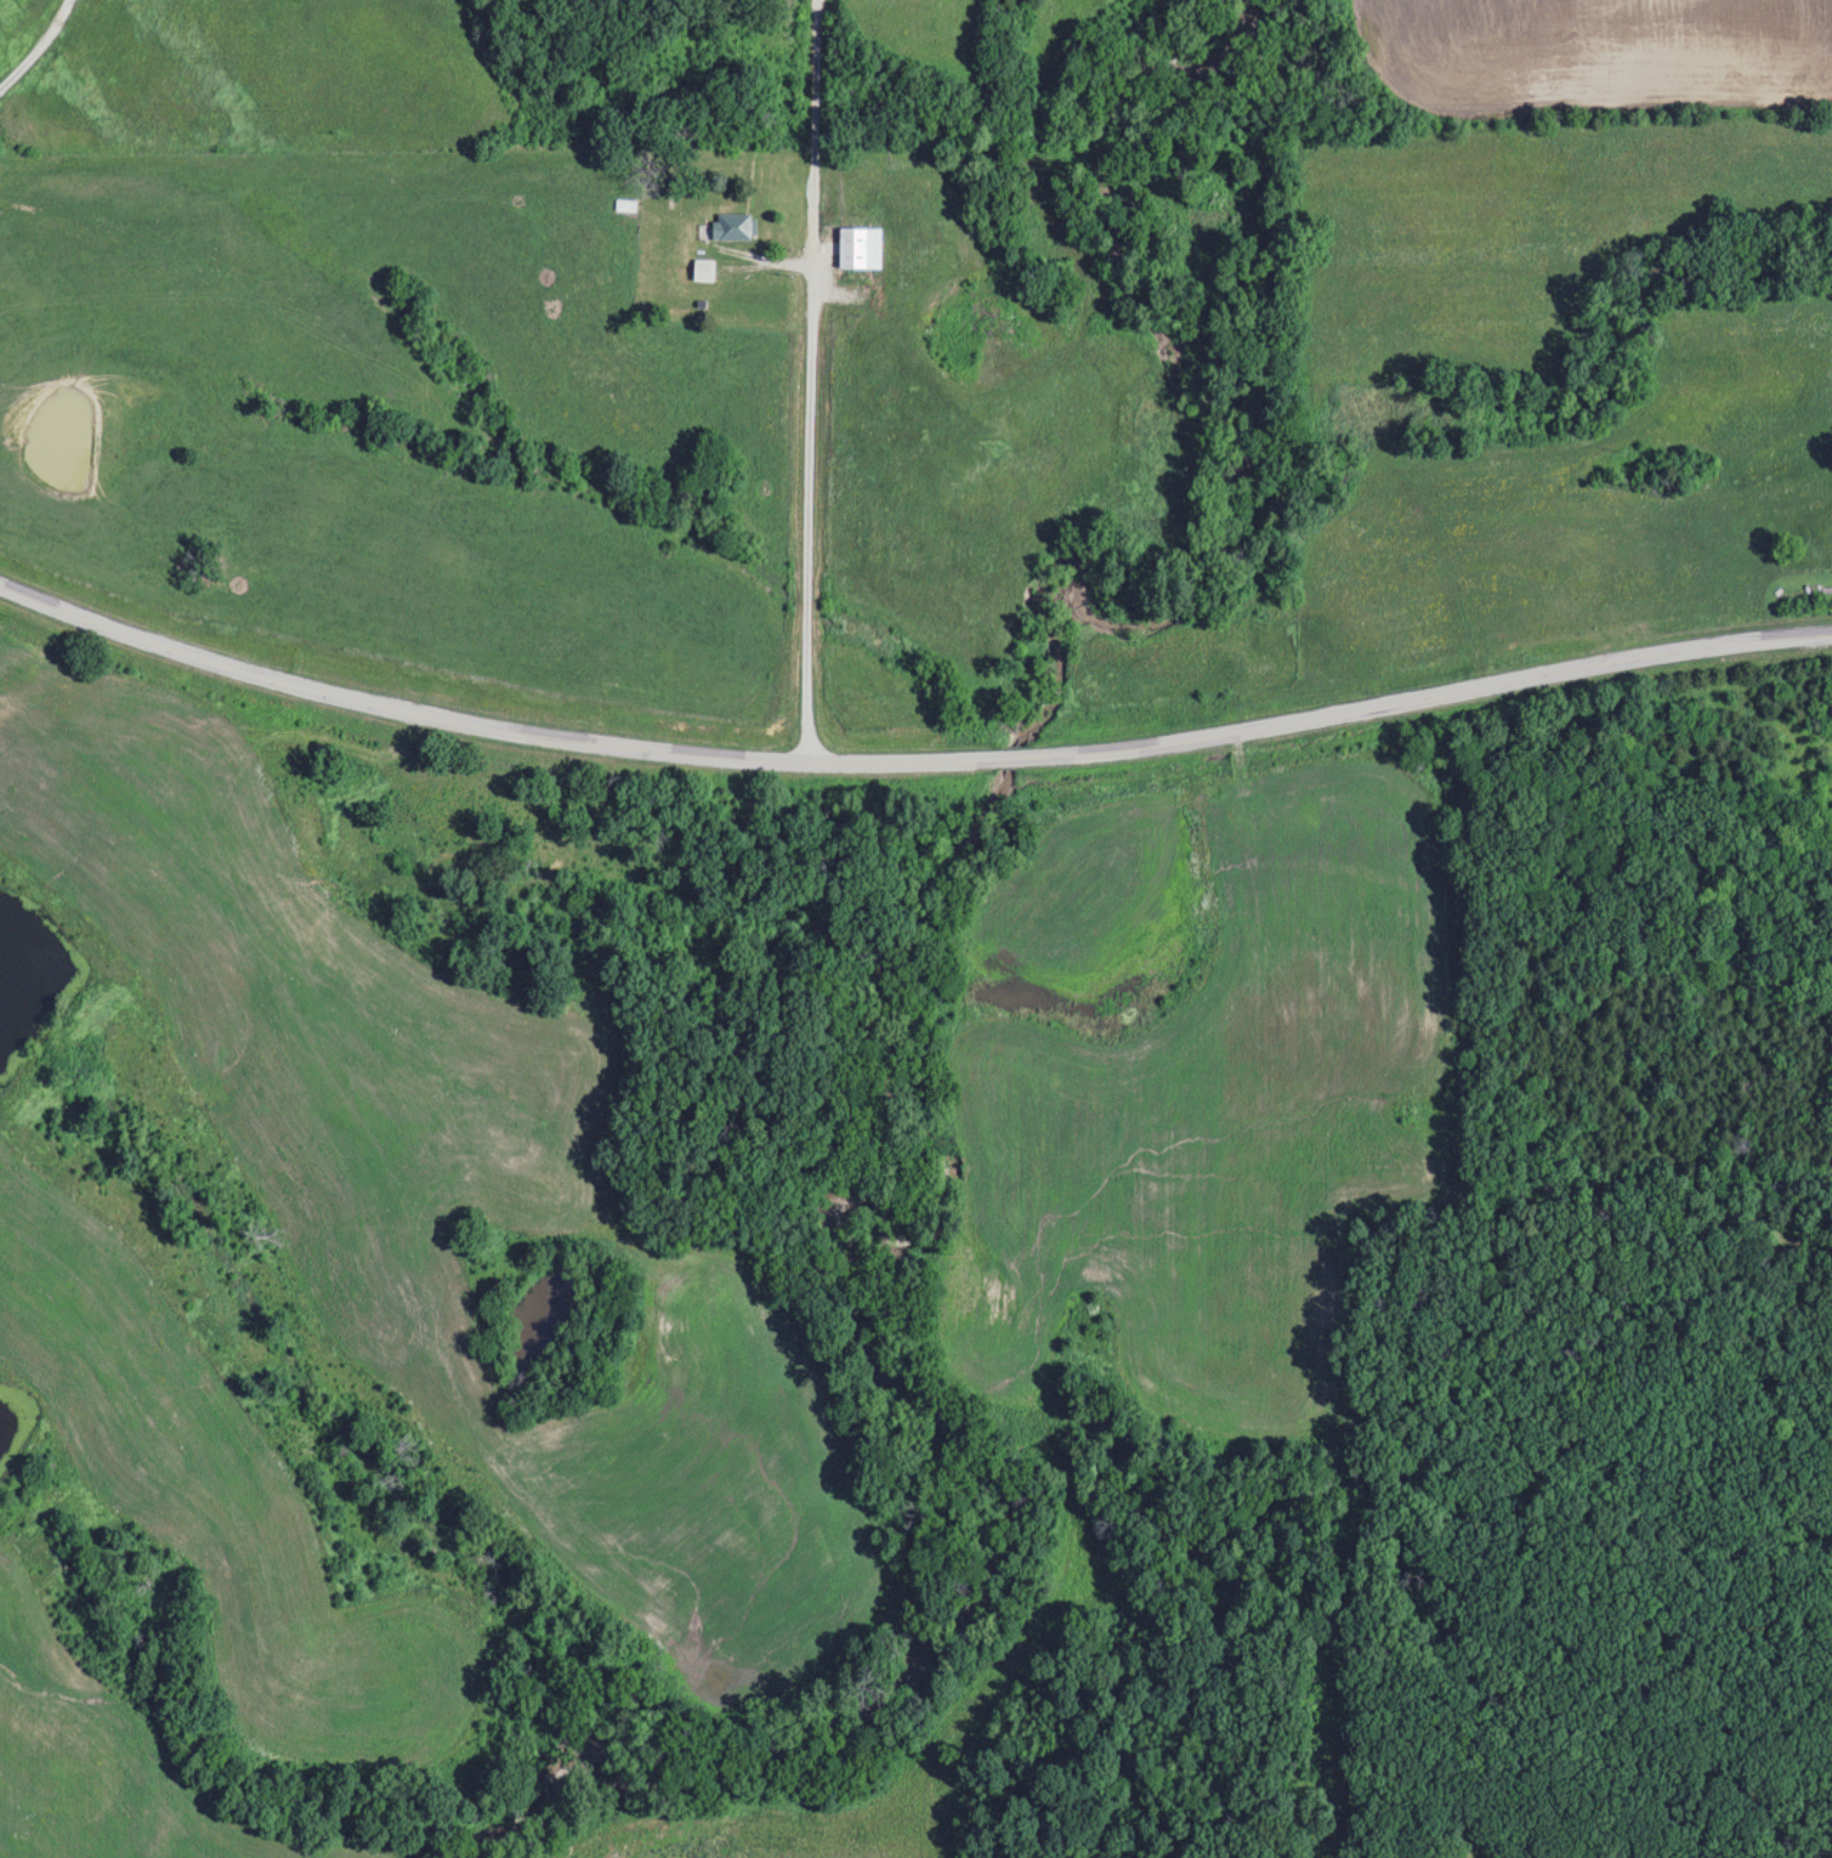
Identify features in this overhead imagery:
road: (38, 47)
building: (730, 226)
building: (858, 248)
road: (809, 384)
road: (909, 766)

